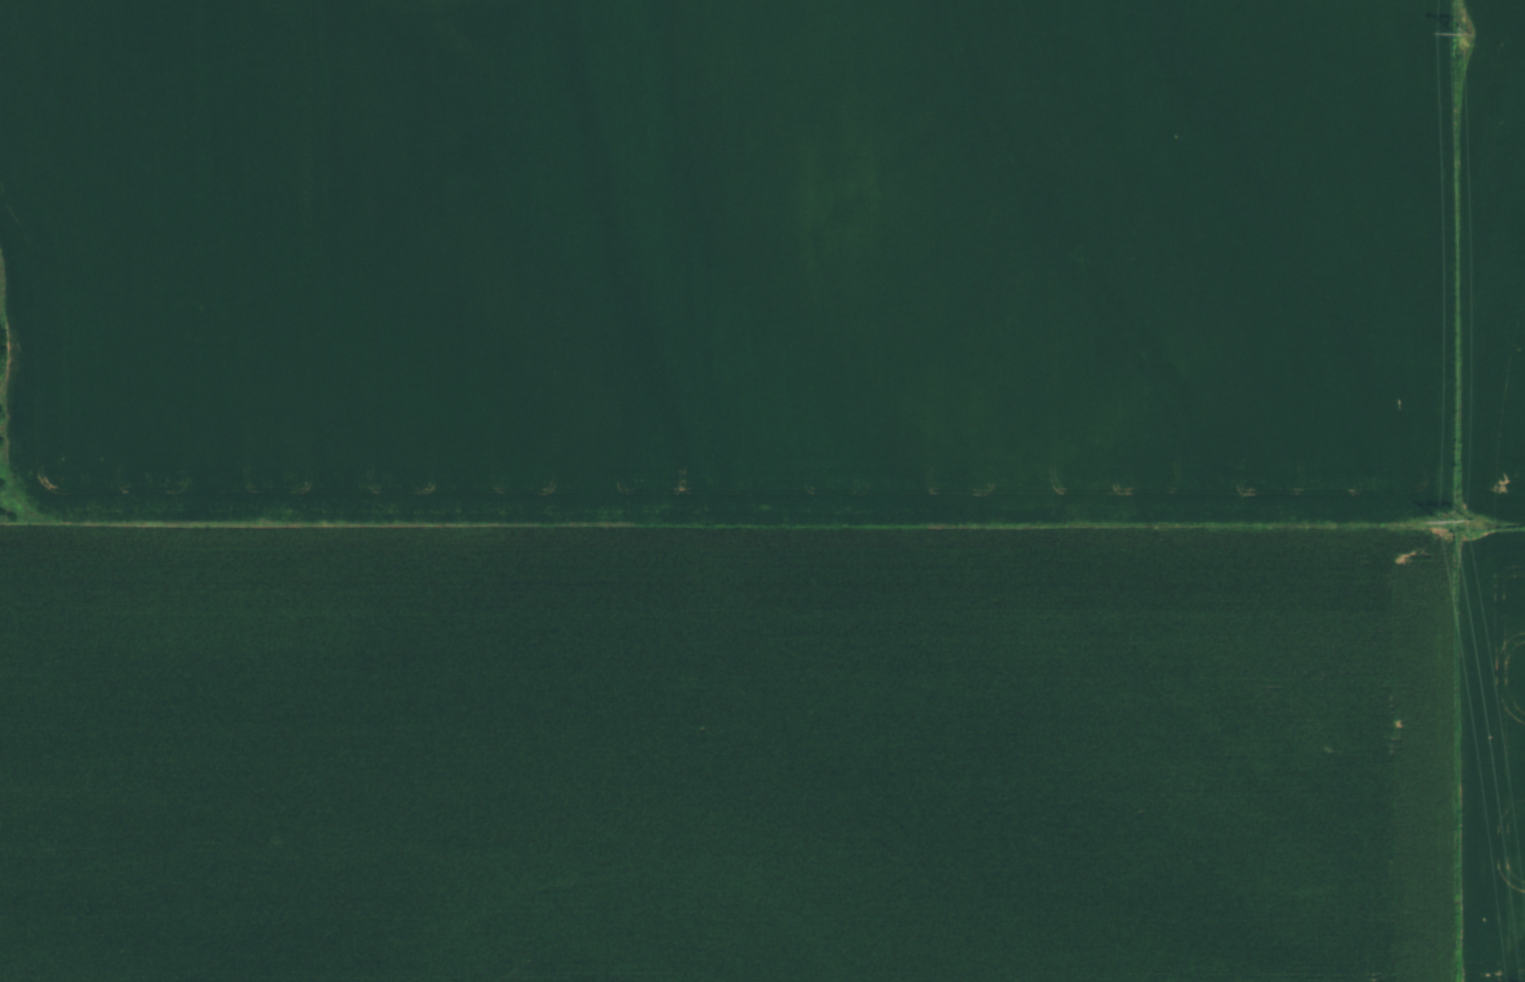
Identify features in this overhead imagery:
power tower: (1460, 31)
power tower: (1453, 515)

